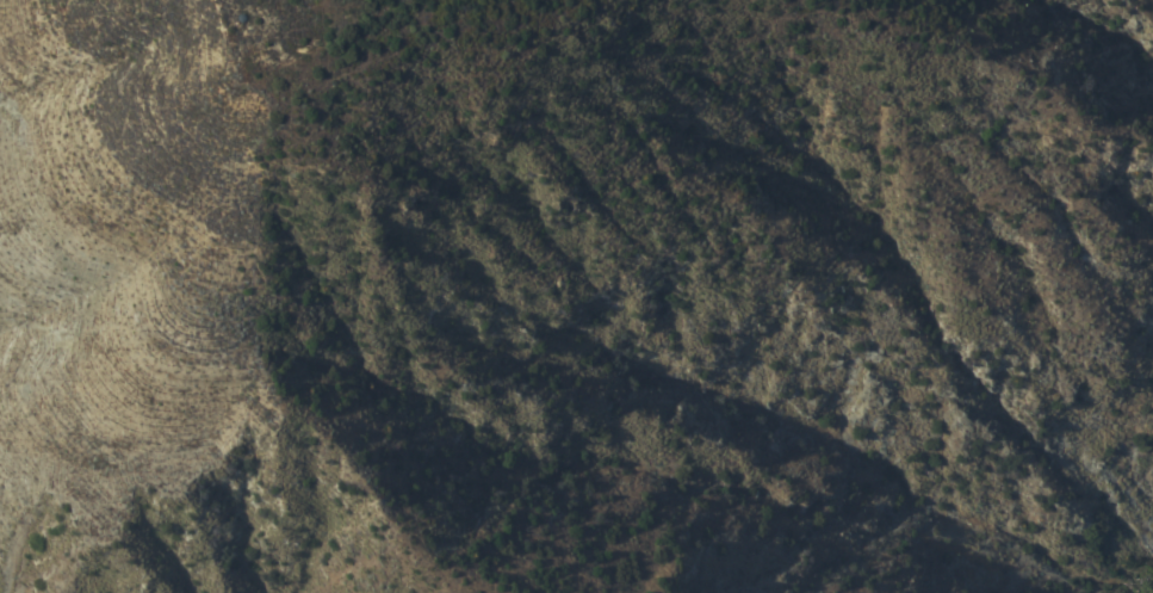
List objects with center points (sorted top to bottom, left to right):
quarry: (174, 323)

